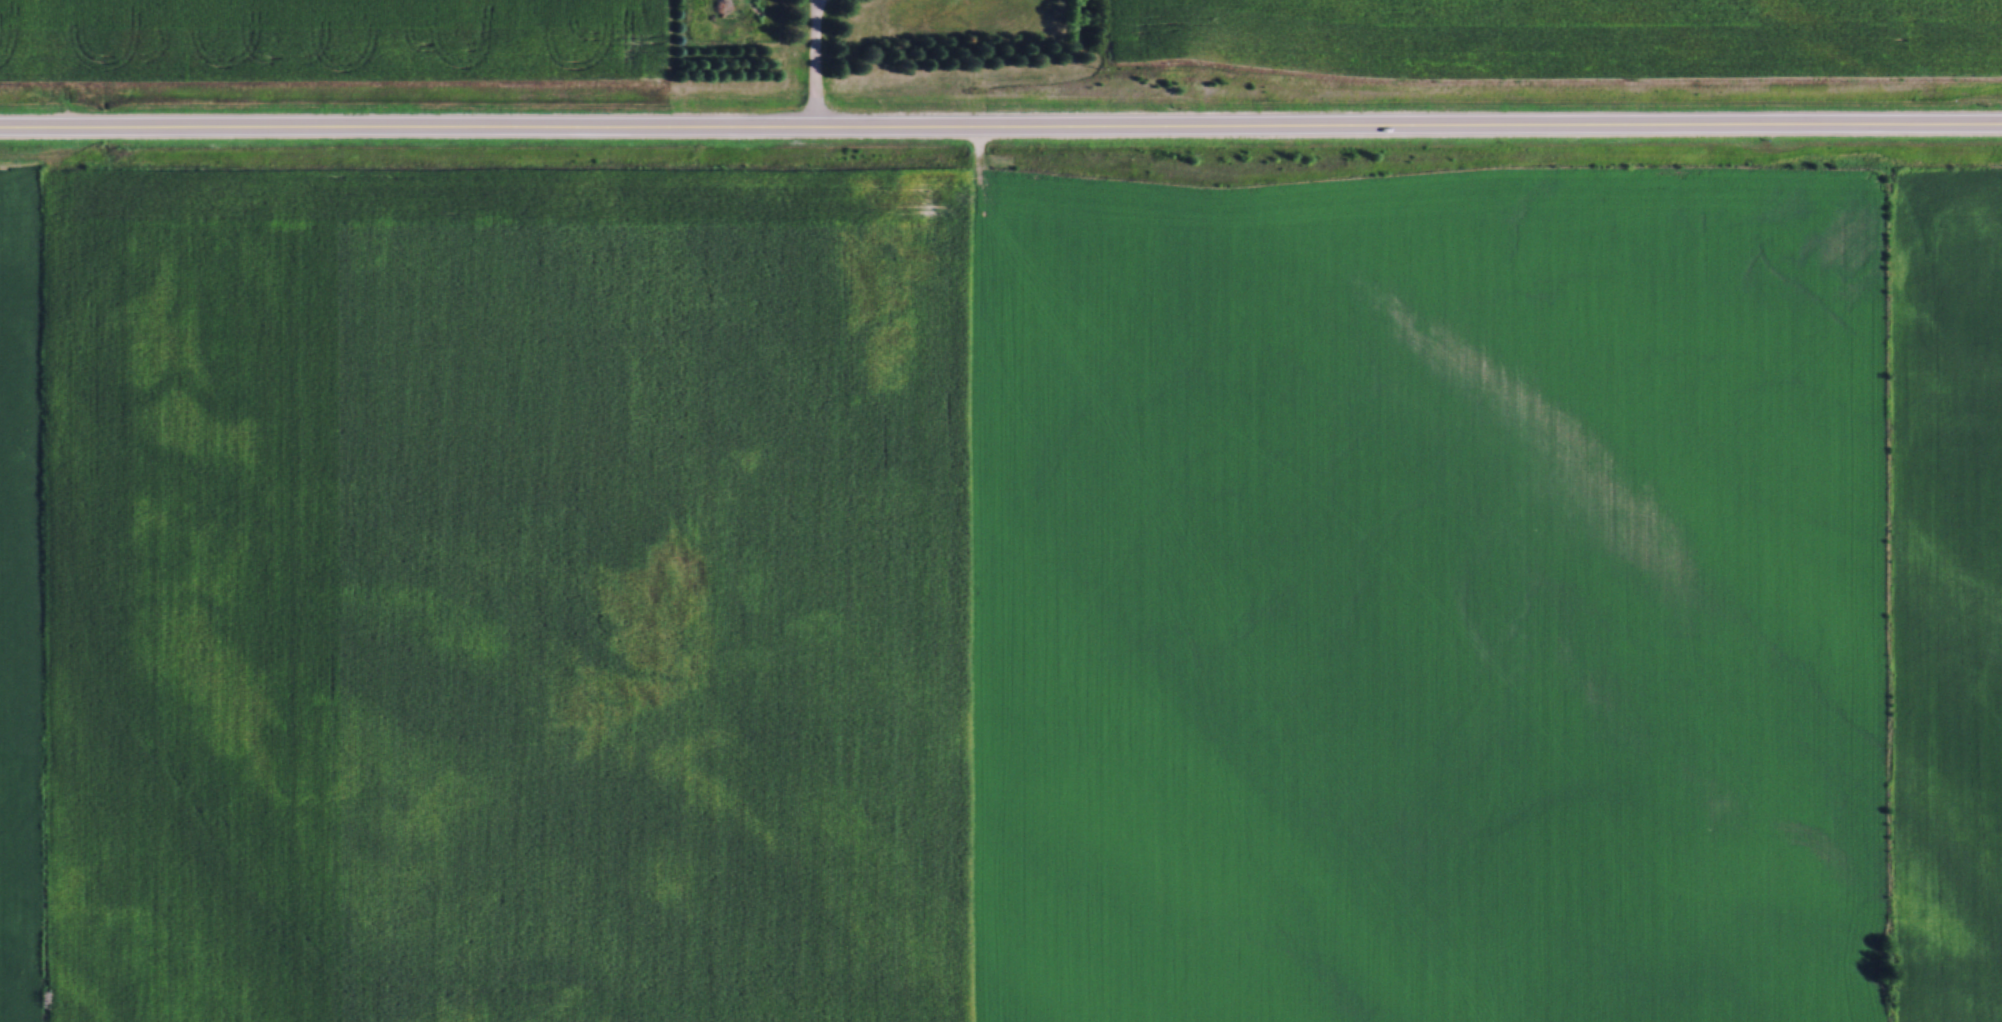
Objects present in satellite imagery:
road: (815, 66)
road: (1001, 131)

